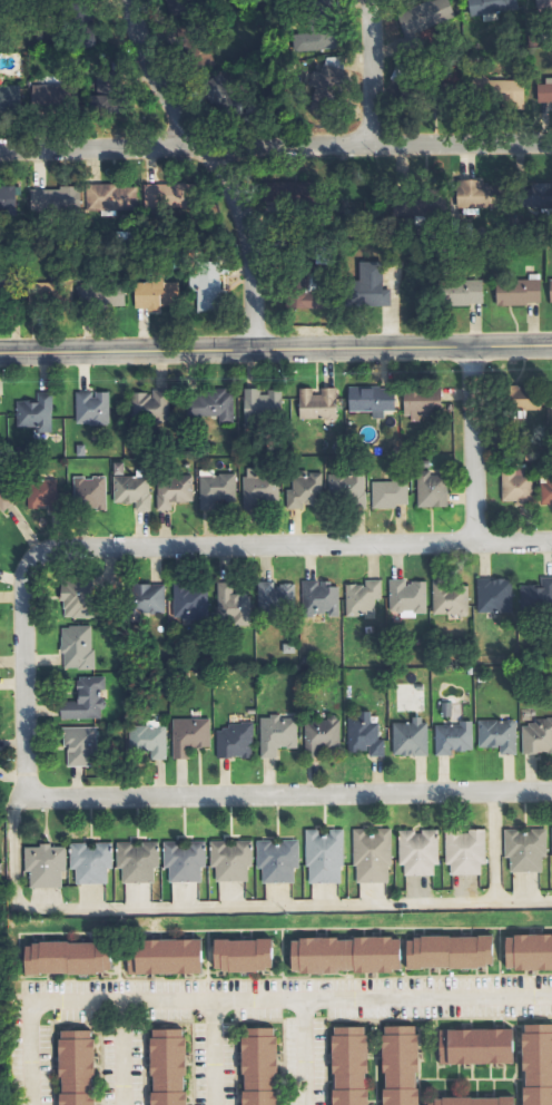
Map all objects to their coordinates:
building: (543, 4)
building: (489, 6)
building: (426, 17)
building: (315, 41)
road: (371, 72)
building: (328, 82)
building: (50, 94)
building: (509, 94)
building: (546, 95)
building: (106, 96)
building: (10, 98)
road: (276, 145)
road: (217, 164)
building: (154, 194)
building: (476, 195)
building: (539, 196)
building: (115, 197)
building: (8, 199)
building: (57, 202)
building: (373, 285)
building: (551, 289)
building: (208, 291)
building: (309, 291)
building: (521, 292)
building: (466, 293)
building: (157, 295)
road: (275, 345)
building: (550, 395)
building: (517, 398)
building: (368, 400)
building: (418, 400)
building: (260, 402)
building: (207, 403)
building: (315, 403)
building: (148, 407)
building: (89, 408)
building: (32, 412)
building: (2, 418)
road: (472, 443)
building: (78, 449)
building: (421, 463)
building: (116, 468)
building: (257, 486)
building: (345, 487)
building: (513, 487)
building: (544, 488)
building: (214, 489)
building: (302, 489)
building: (428, 489)
building: (170, 490)
building: (87, 491)
building: (130, 491)
building: (38, 492)
building: (386, 492)
building: (3, 499)
road: (169, 546)
building: (273, 595)
building: (492, 595)
building: (534, 595)
building: (404, 596)
building: (75, 597)
building: (359, 597)
building: (144, 598)
building: (316, 598)
building: (446, 599)
building: (186, 600)
building: (230, 603)
building: (75, 646)
building: (82, 698)
building: (444, 708)
building: (274, 734)
building: (362, 734)
building: (187, 735)
building: (318, 735)
building: (495, 735)
building: (535, 736)
building: (407, 737)
building: (451, 737)
building: (146, 739)
building: (233, 740)
building: (78, 745)
road: (286, 794)
building: (551, 841)
road: (492, 847)
building: (523, 849)
building: (462, 850)
building: (415, 851)
building: (369, 854)
building: (322, 855)
building: (181, 860)
building: (229, 860)
building: (275, 860)
building: (135, 861)
building: (89, 862)
building: (42, 864)
road: (228, 907)
building: (529, 950)
building: (447, 951)
building: (241, 954)
building: (344, 954)
building: (162, 956)
building: (66, 957)
road: (373, 998)
road: (111, 1000)
building: (474, 1046)
road: (120, 1053)
road: (210, 1053)
building: (536, 1064)
building: (348, 1065)
building: (398, 1065)
building: (166, 1066)
building: (258, 1066)
building: (75, 1067)
building: (472, 1101)

